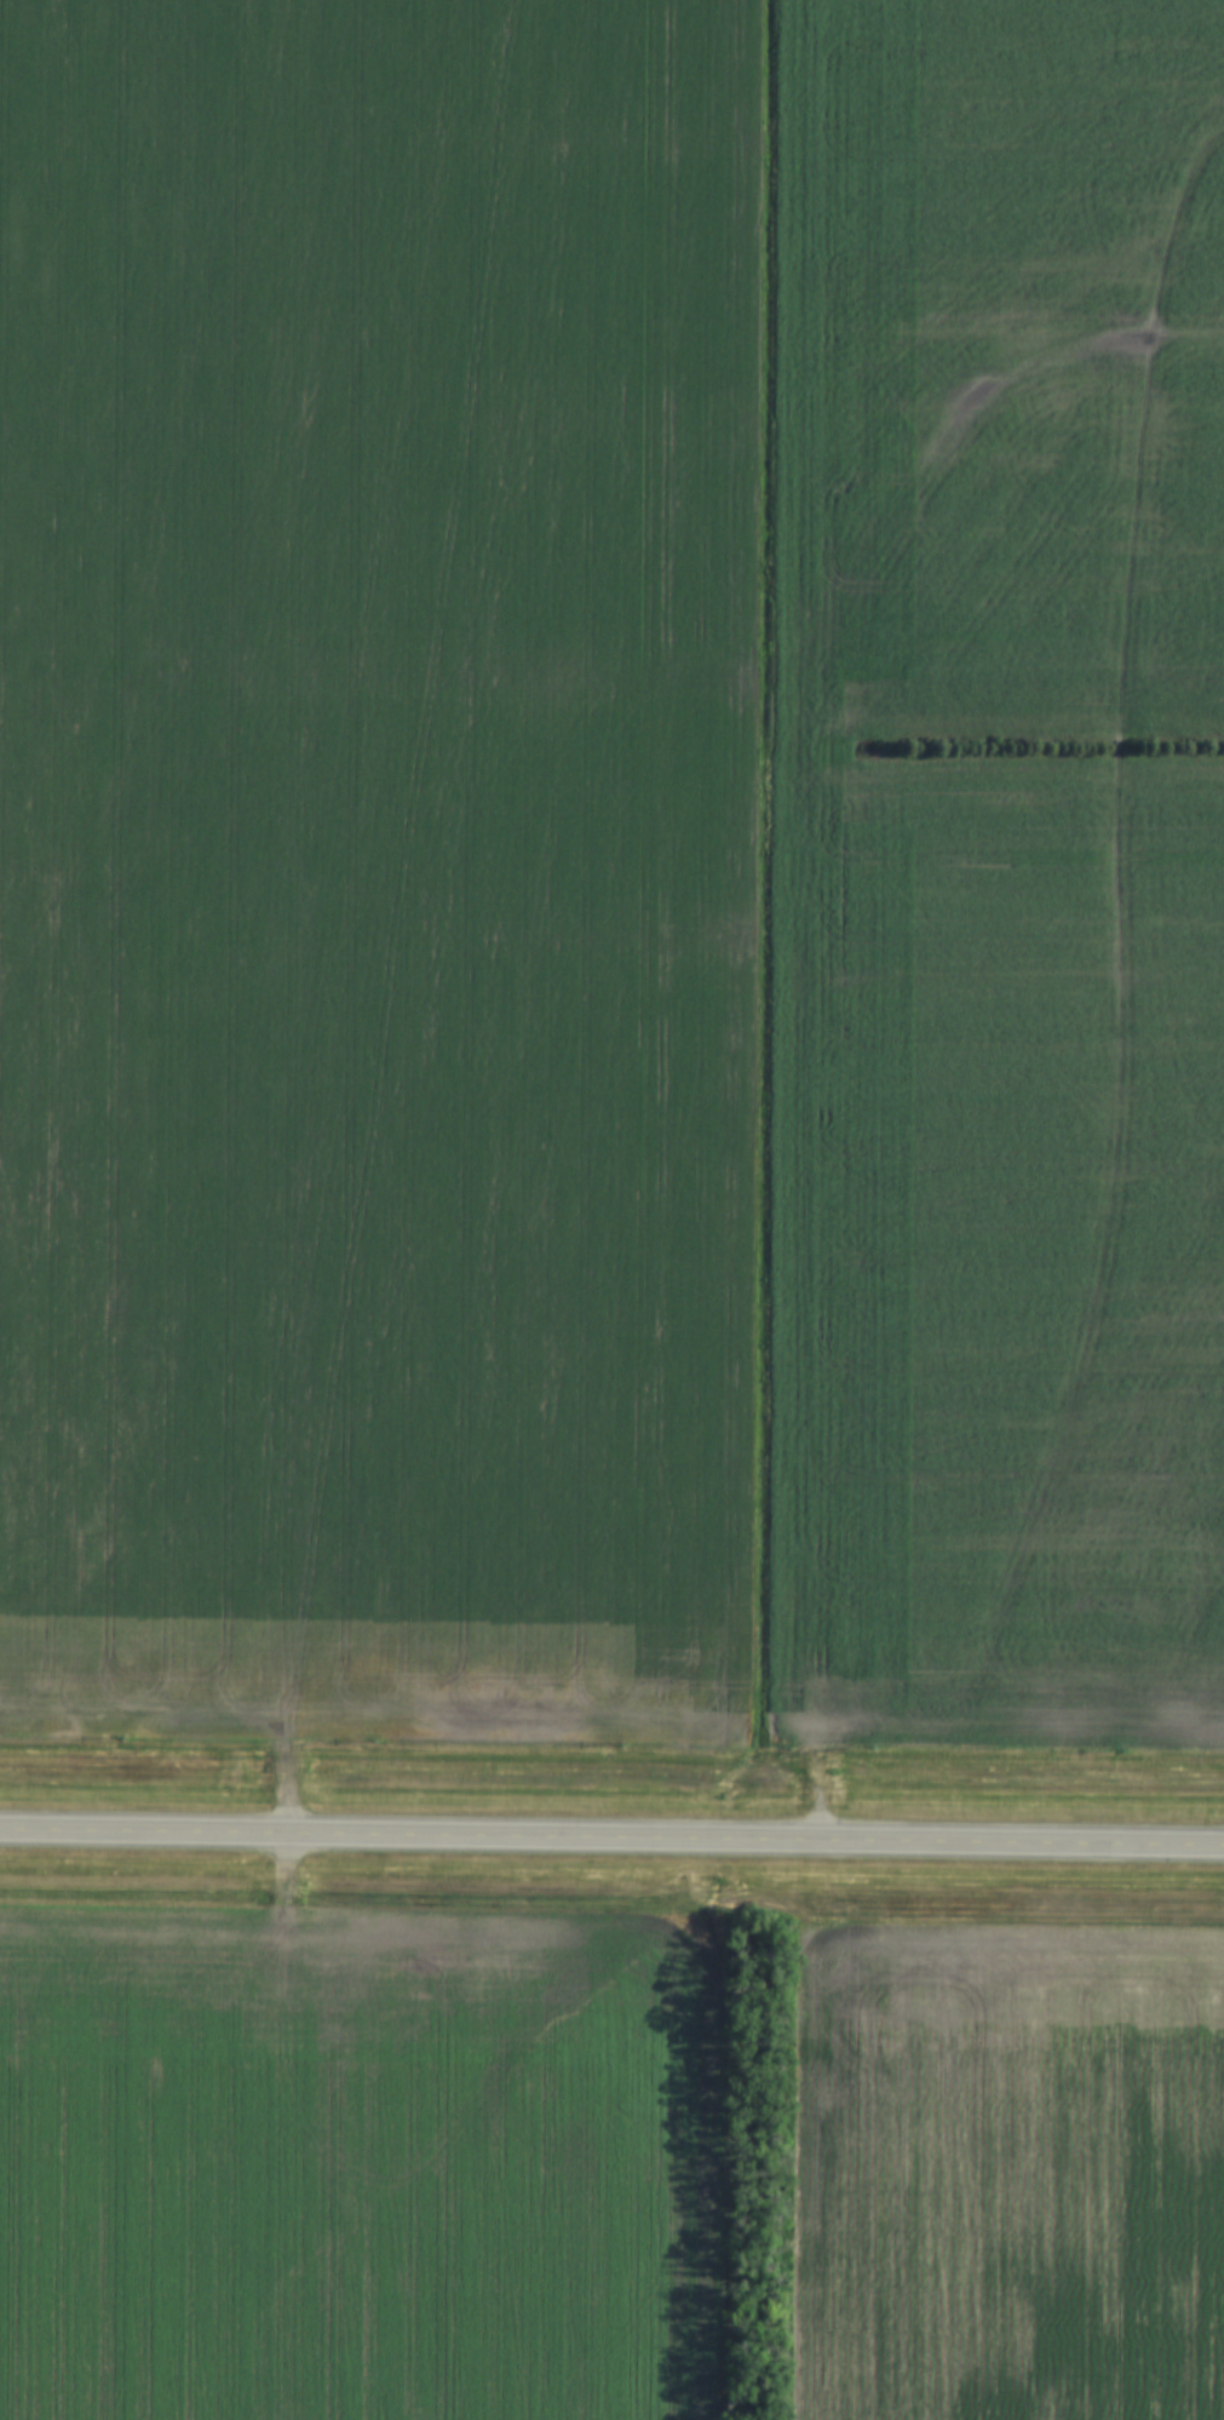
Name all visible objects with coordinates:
road: (611, 1842)

